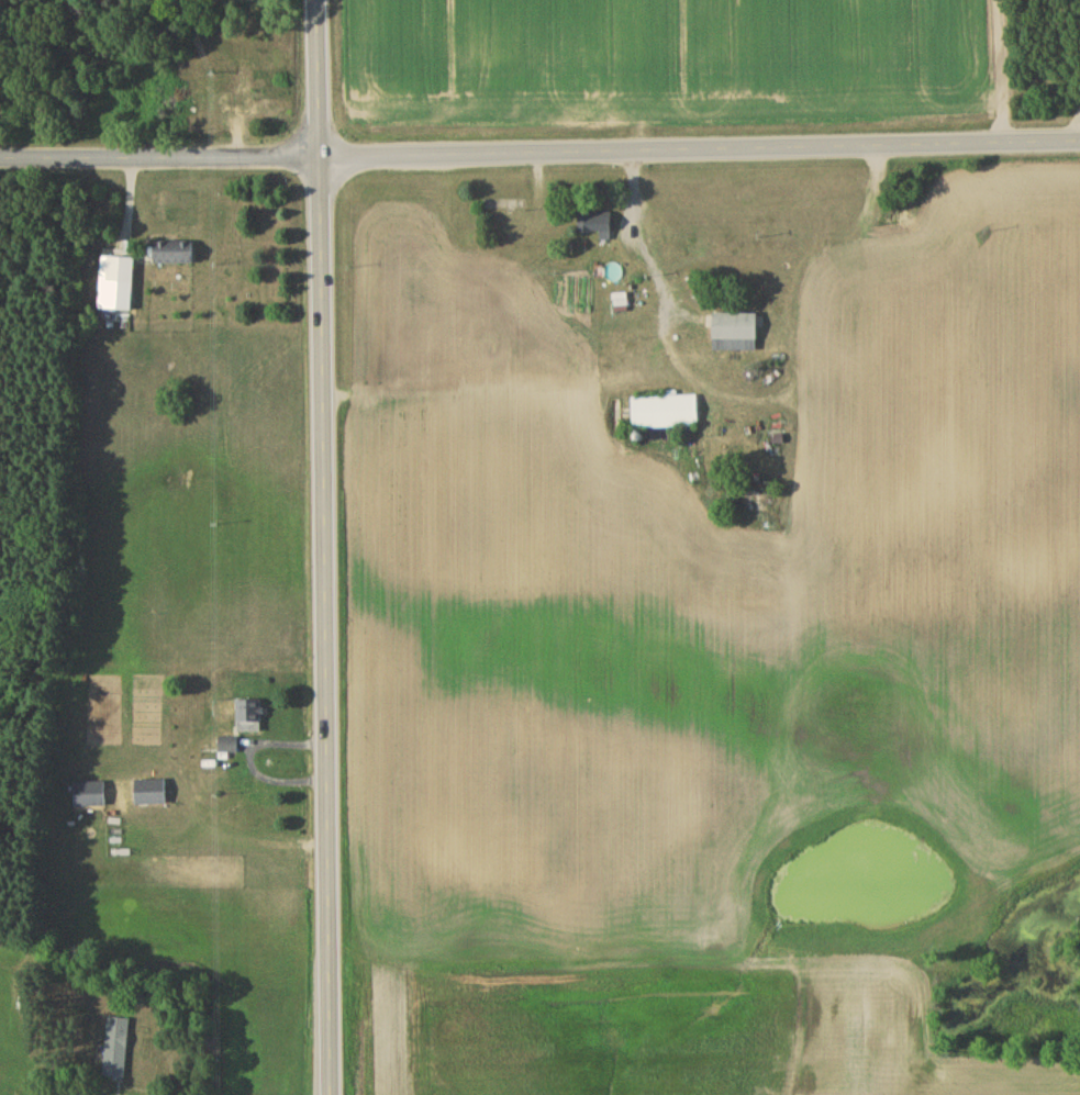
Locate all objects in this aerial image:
road: (1079, 137)
road: (539, 153)
building: (597, 225)
building: (175, 255)
building: (119, 288)
building: (736, 335)
road: (598, 379)
building: (666, 414)
road: (323, 547)
building: (249, 718)
building: (151, 795)
building: (90, 797)
building: (116, 1051)

